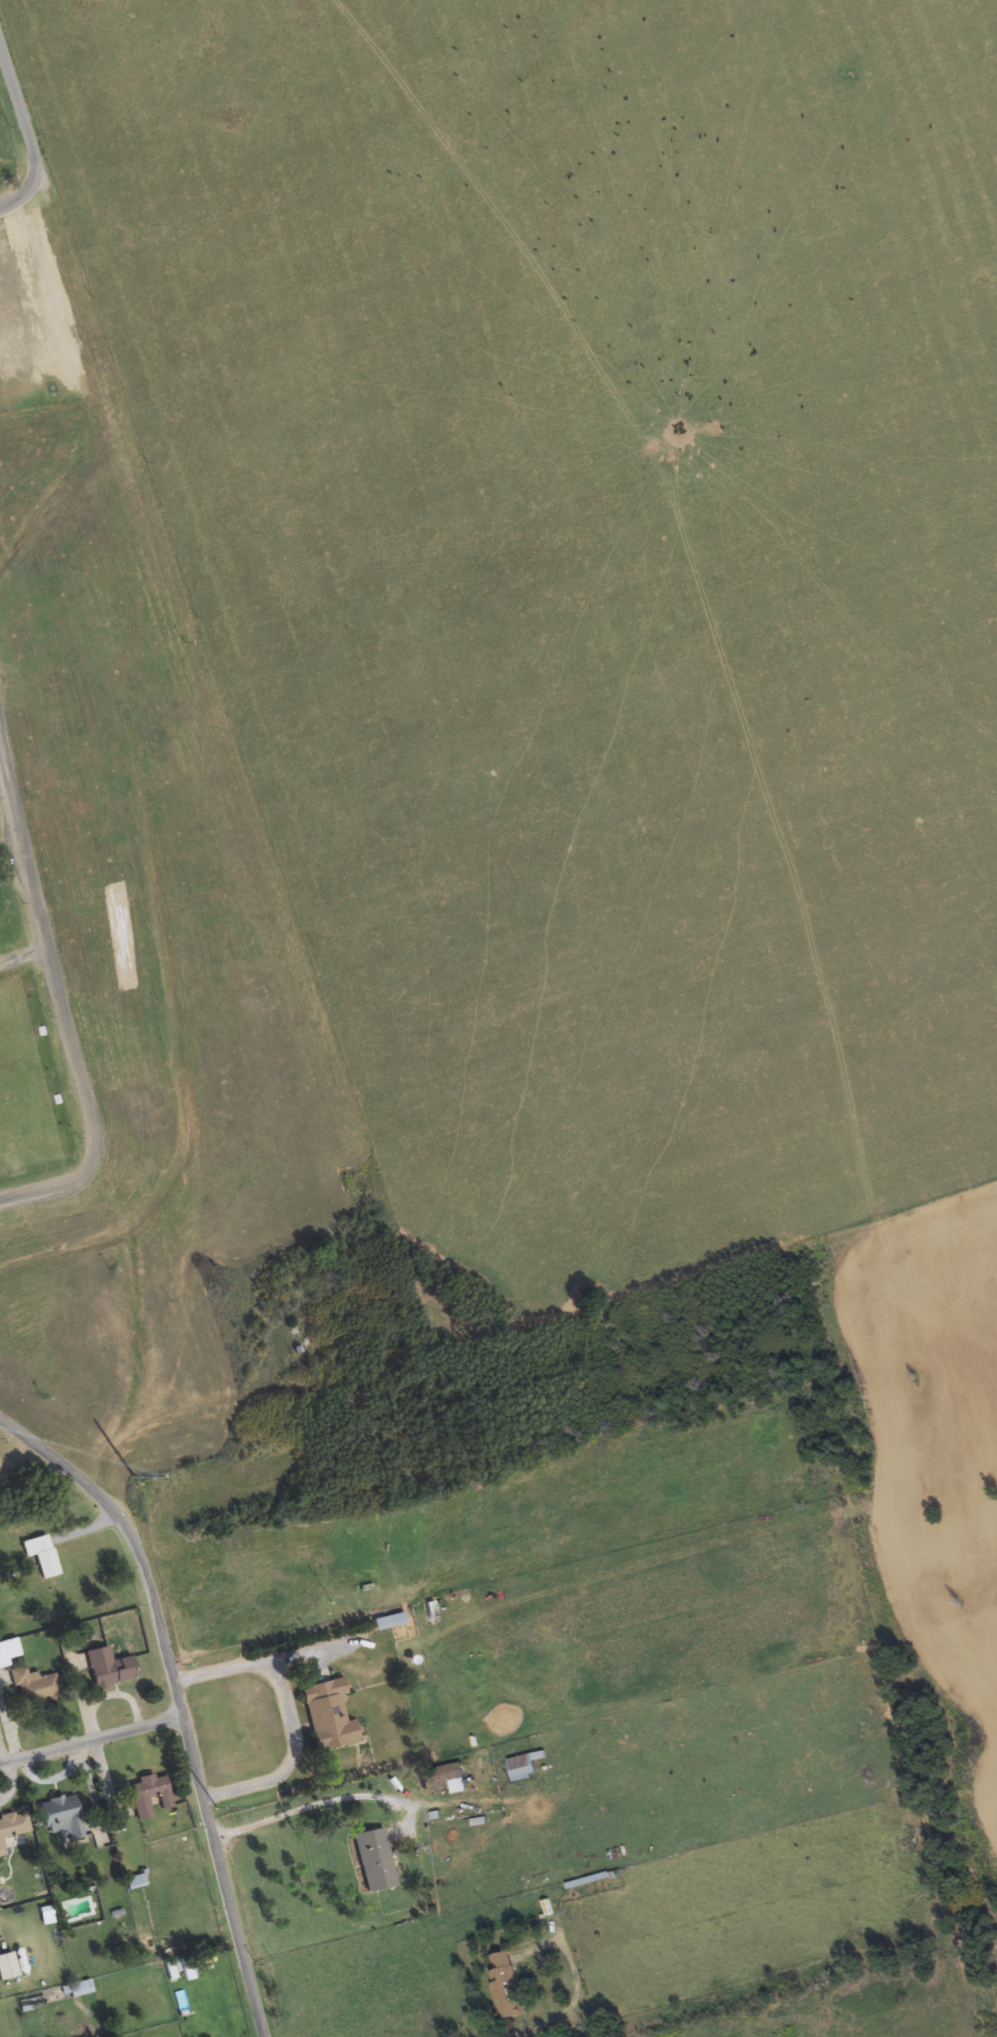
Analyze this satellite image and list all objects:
road: (26, 134)
road: (29, 873)
park: (128, 918)
power tower: (132, 1475)
building: (39, 1556)
building: (386, 1622)
building: (7, 1651)
building: (106, 1669)
building: (32, 1686)
road: (181, 1702)
building: (325, 1716)
road: (93, 1741)
building: (523, 1766)
building: (442, 1779)
building: (147, 1796)
power tower: (215, 1807)
building: (59, 1818)
building: (10, 1826)
building: (1, 1851)
building: (372, 1860)
building: (133, 1882)
building: (5, 1967)
building: (175, 1970)
building: (504, 1985)
building: (75, 1989)

